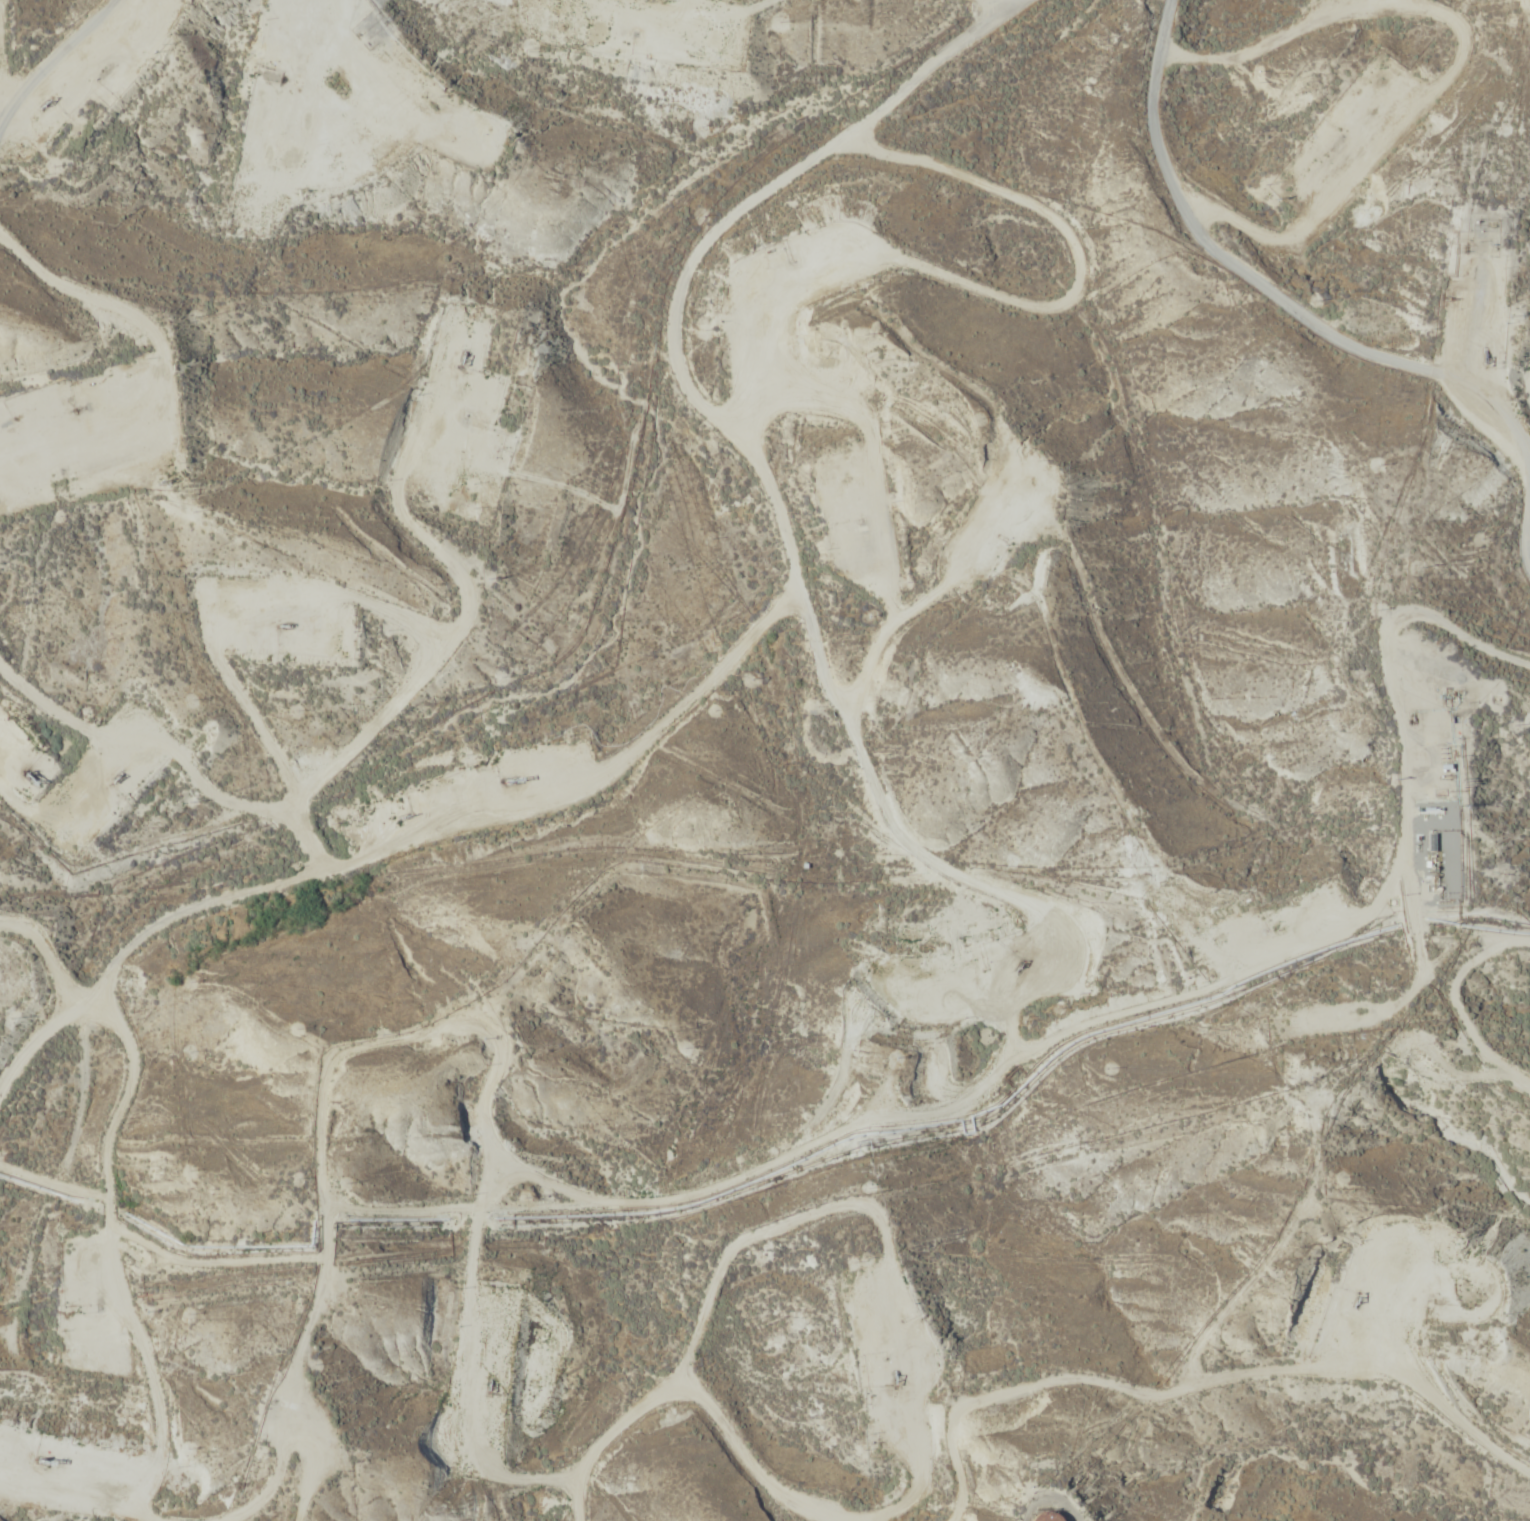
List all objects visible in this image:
road: (1018, 2)
road: (119, 8)
road: (391, 28)
road: (190, 47)
road: (7, 199)
road: (1258, 282)
road: (57, 551)
road: (390, 700)
road: (202, 950)
road: (1443, 978)
road: (47, 1066)
road: (969, 1104)
road: (932, 1407)
building: (1053, 1517)

